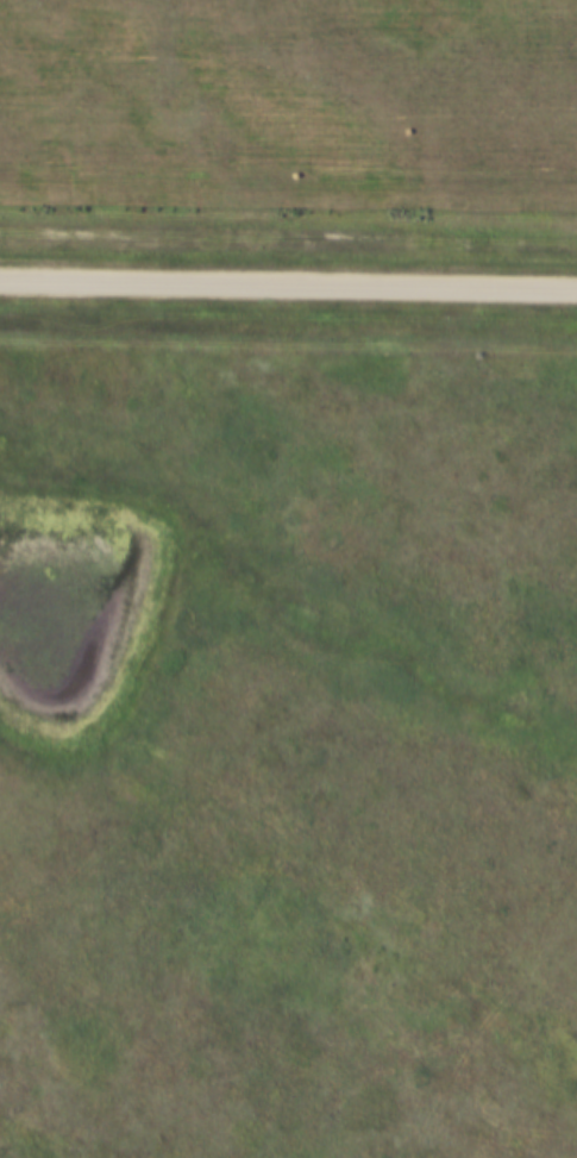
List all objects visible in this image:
road: (288, 278)

